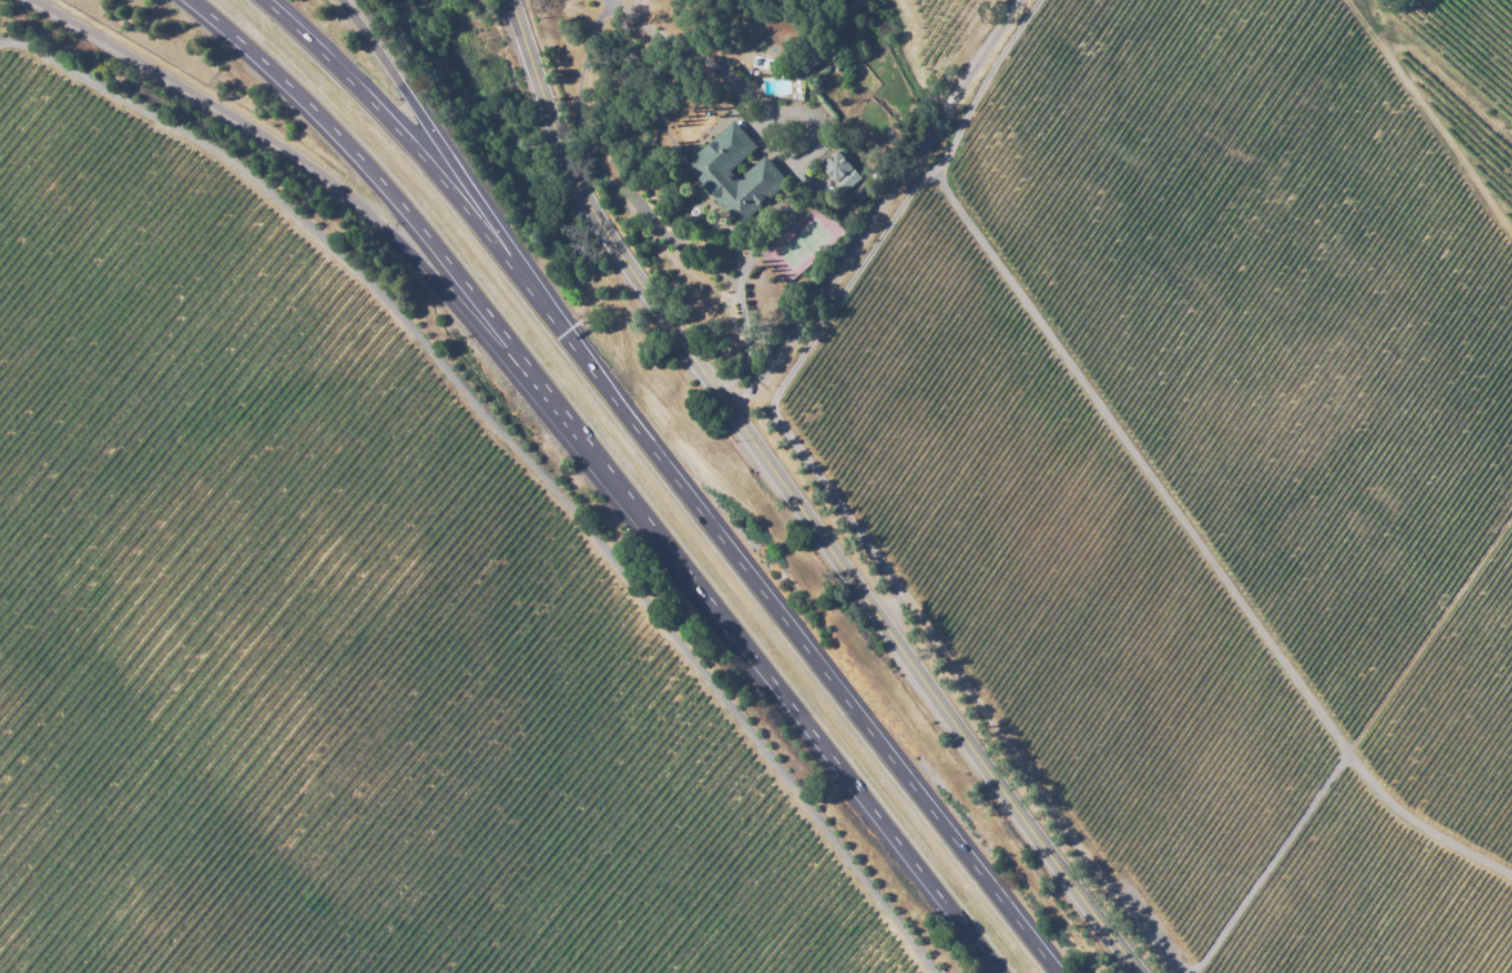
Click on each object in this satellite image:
road: (440, 144)
building: (841, 169)
building: (714, 175)
road: (331, 183)
road: (873, 207)
road: (616, 471)
road: (674, 475)
road: (227, 494)
road: (799, 504)

